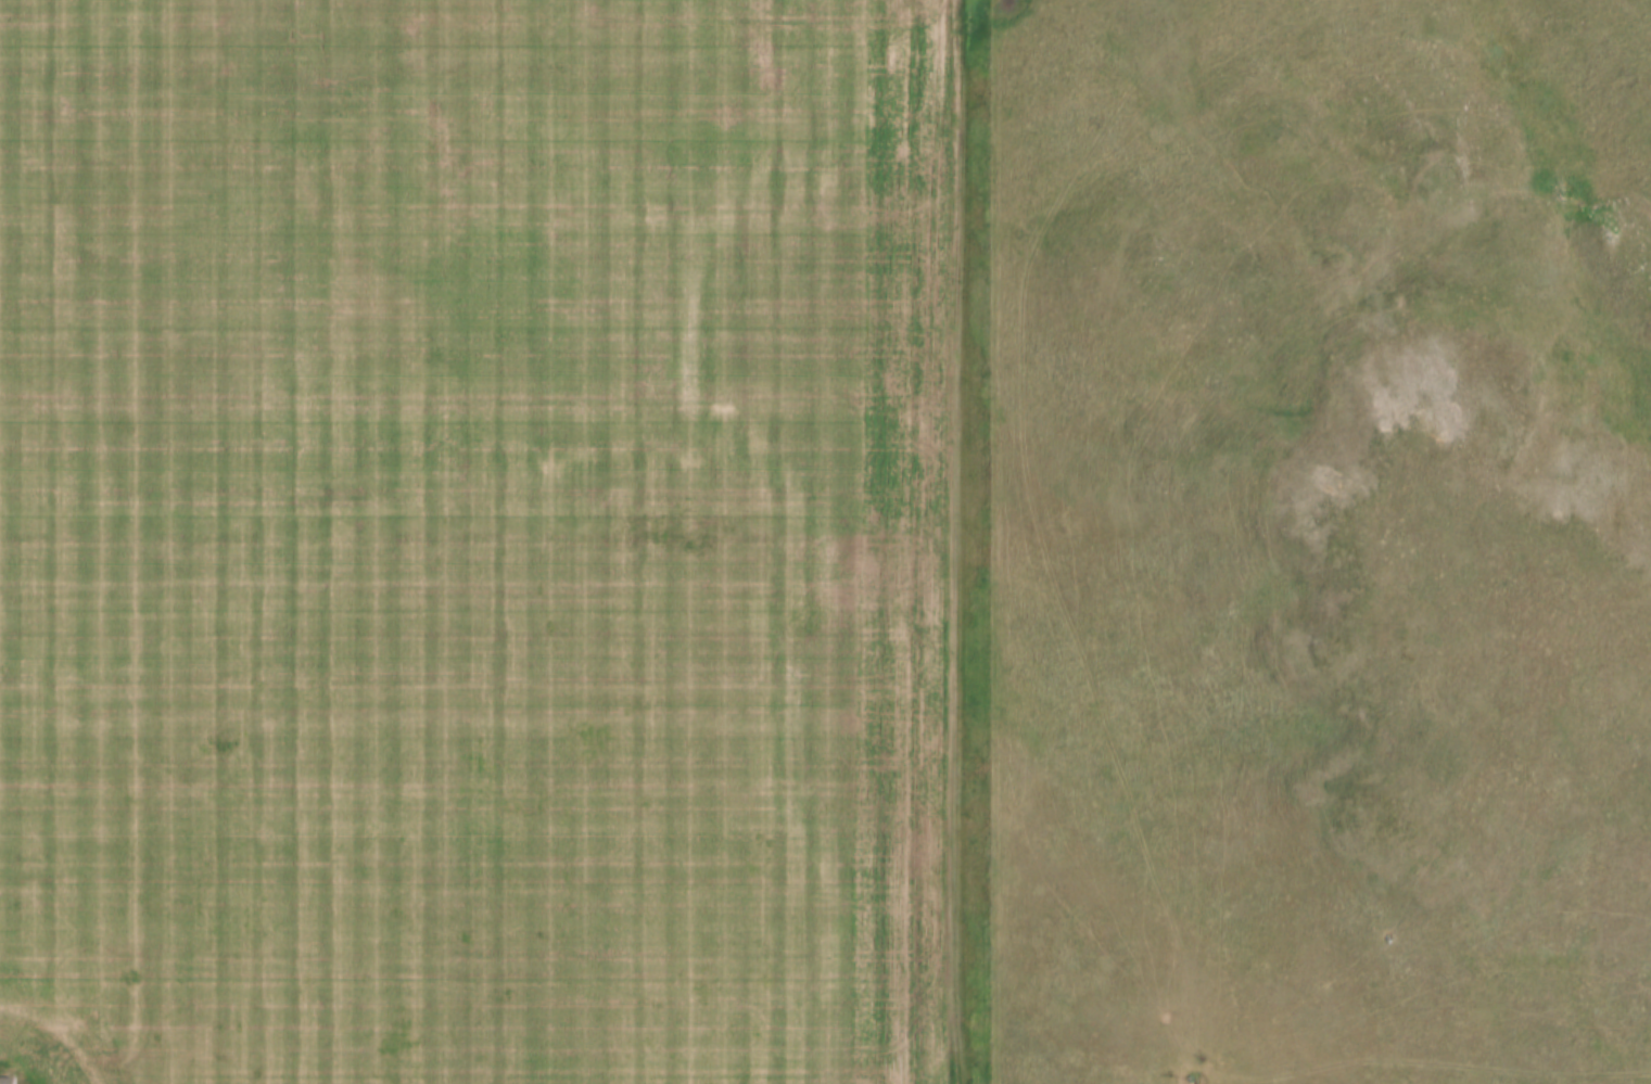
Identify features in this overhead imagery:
road: (955, 541)
building: (11, 1081)

